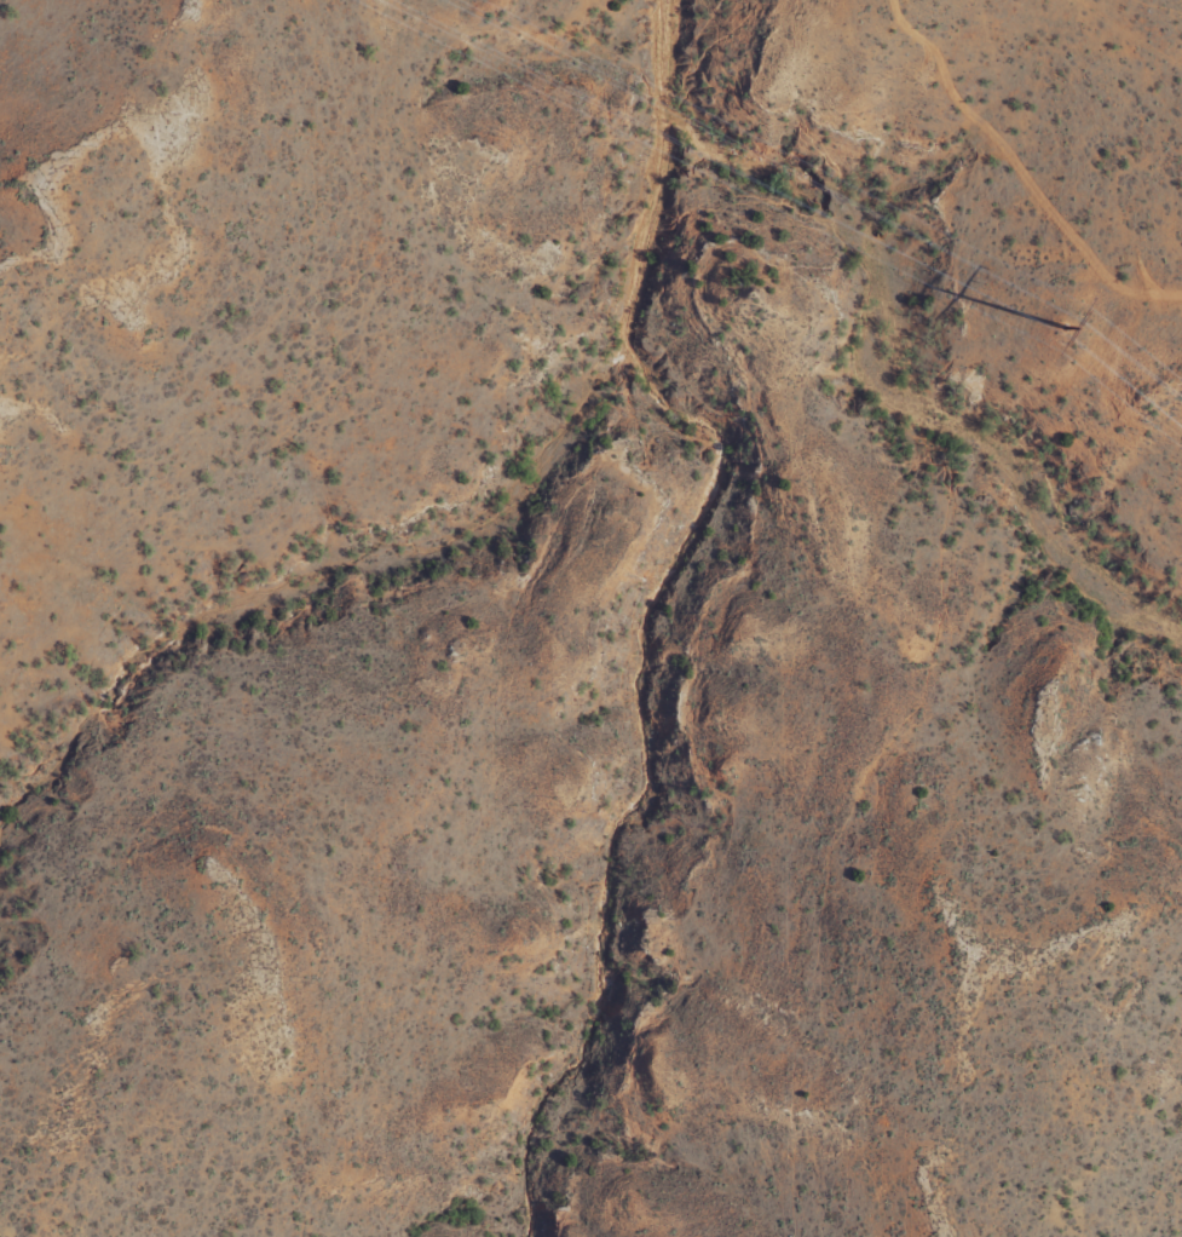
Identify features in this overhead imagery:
power tower: (1066, 326)

